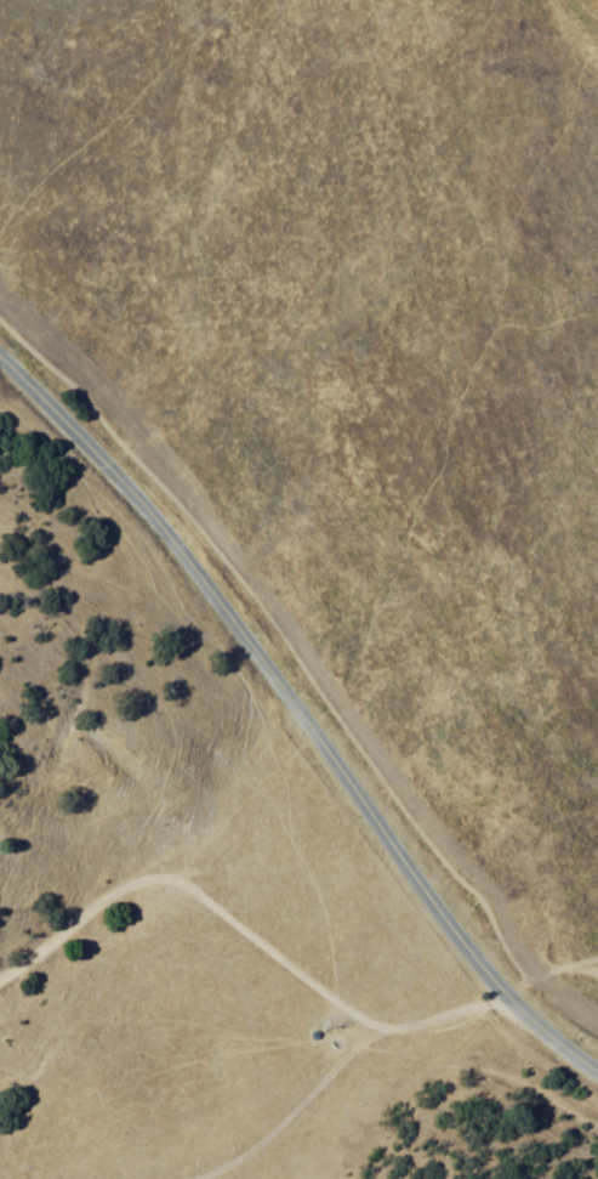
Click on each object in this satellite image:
crop: (360, 375)
road: (301, 709)
road: (244, 935)

